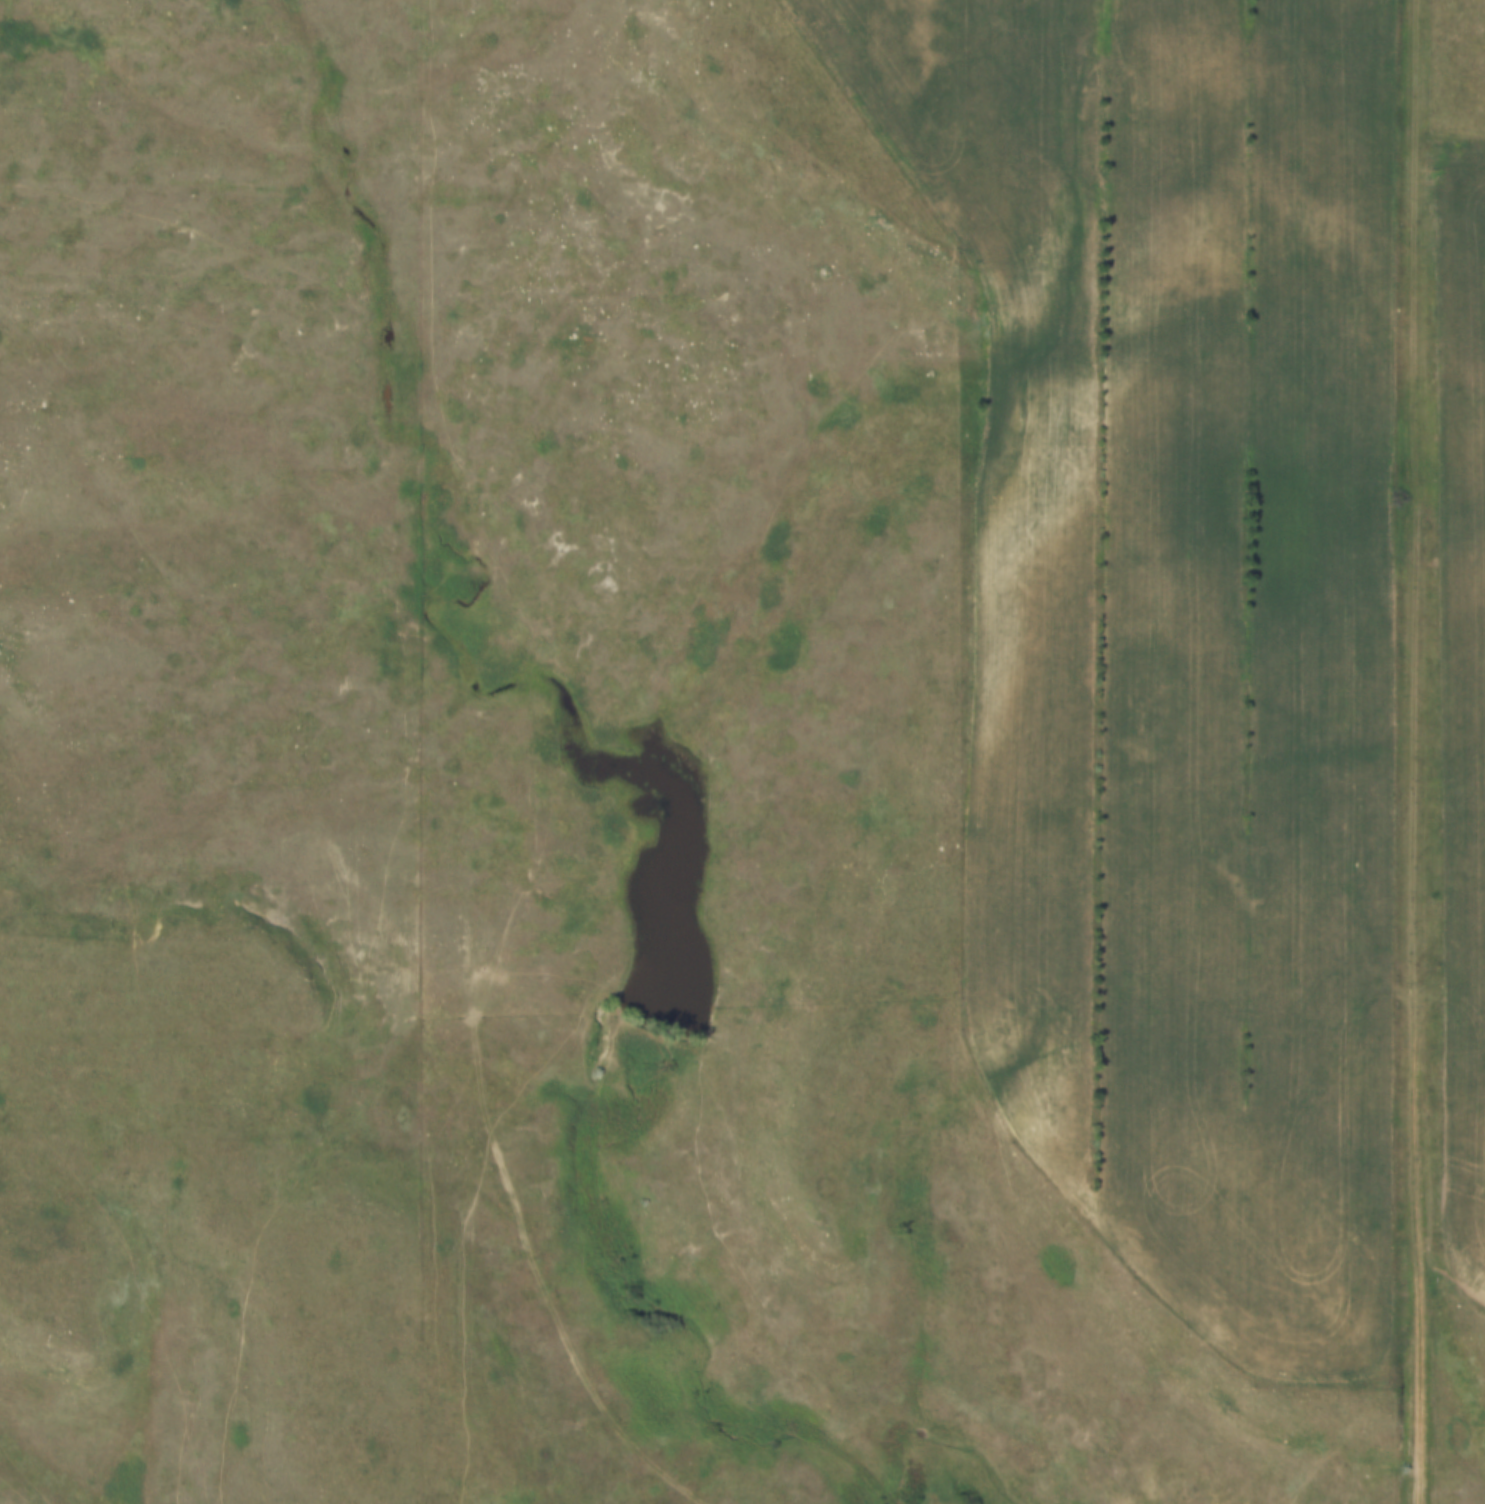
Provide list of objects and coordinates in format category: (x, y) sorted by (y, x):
road: (1412, 752)
road: (499, 1154)

